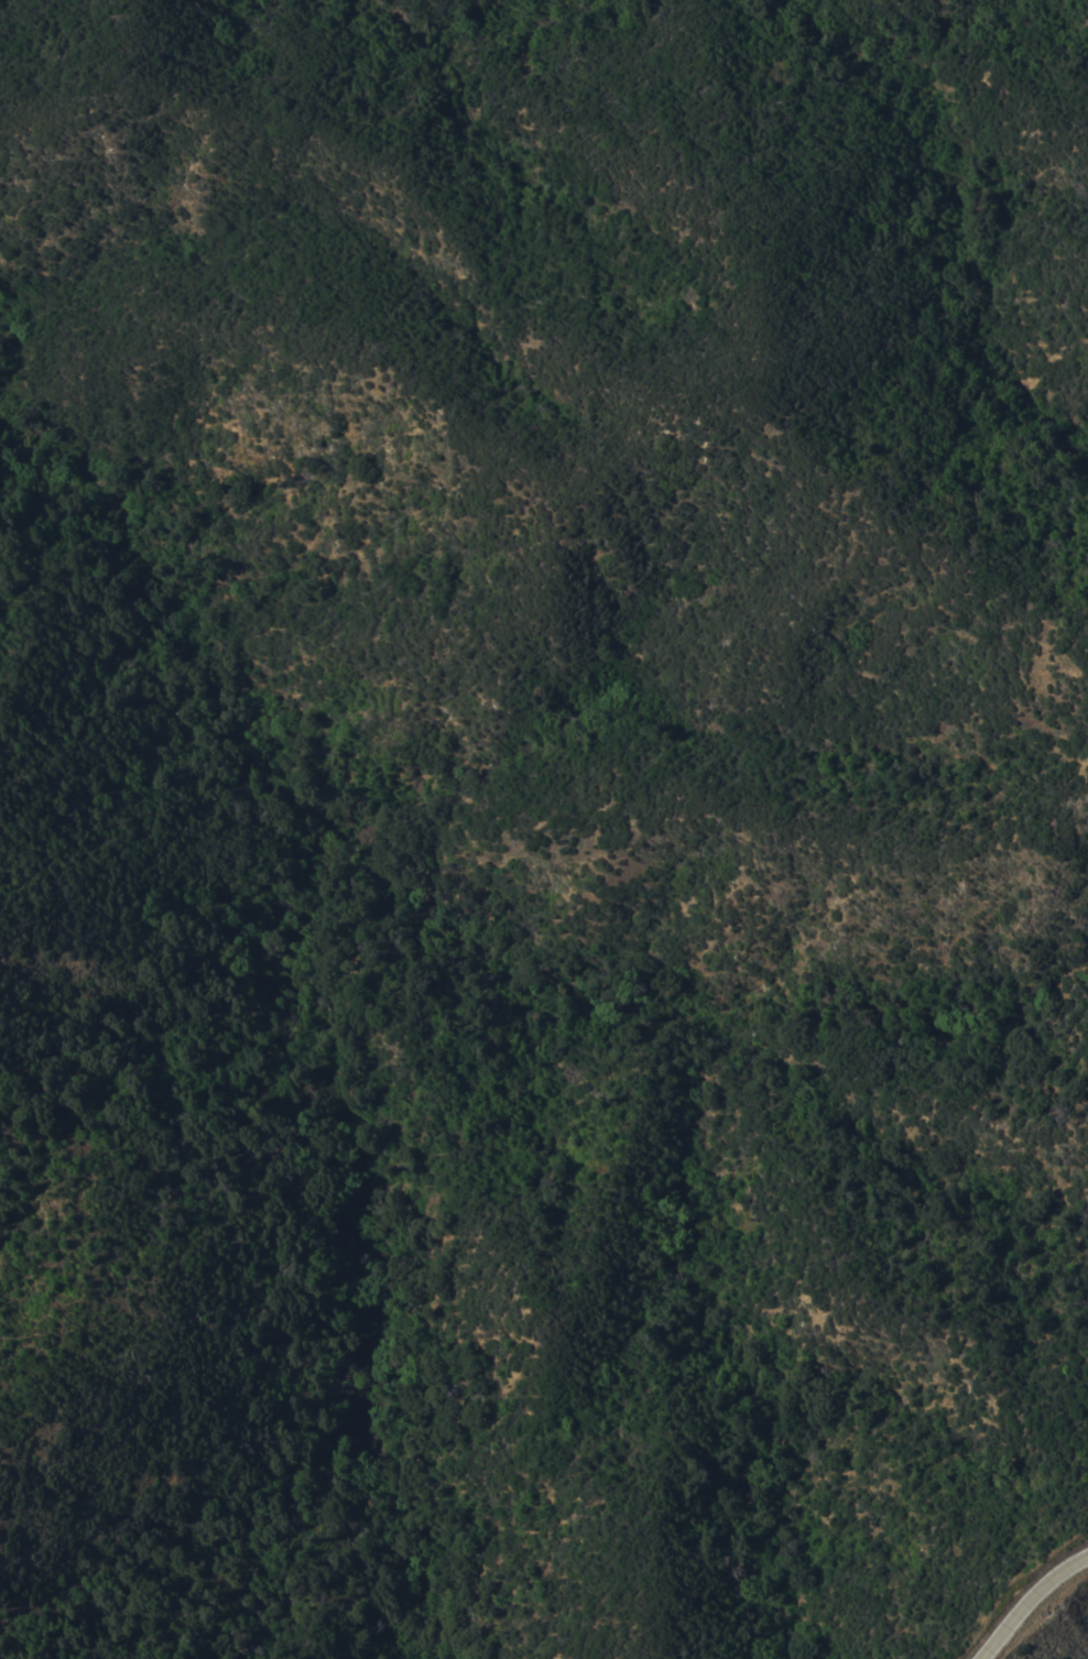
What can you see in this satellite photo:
road: (1030, 1602)

